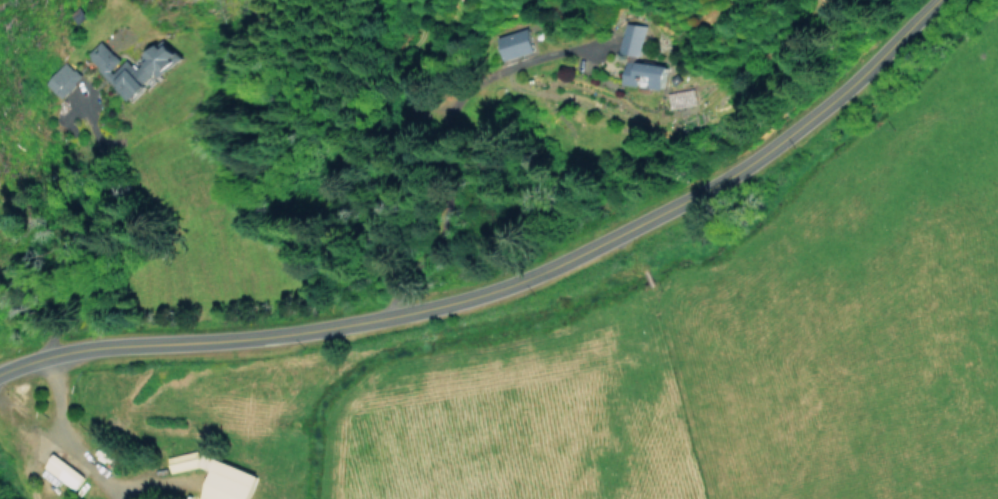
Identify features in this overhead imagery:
building: (630, 39)
building: (512, 43)
building: (132, 68)
building: (642, 73)
building: (62, 79)
road: (504, 283)
crop: (742, 348)
road: (46, 431)
road: (69, 431)
road: (23, 442)
road: (146, 478)

